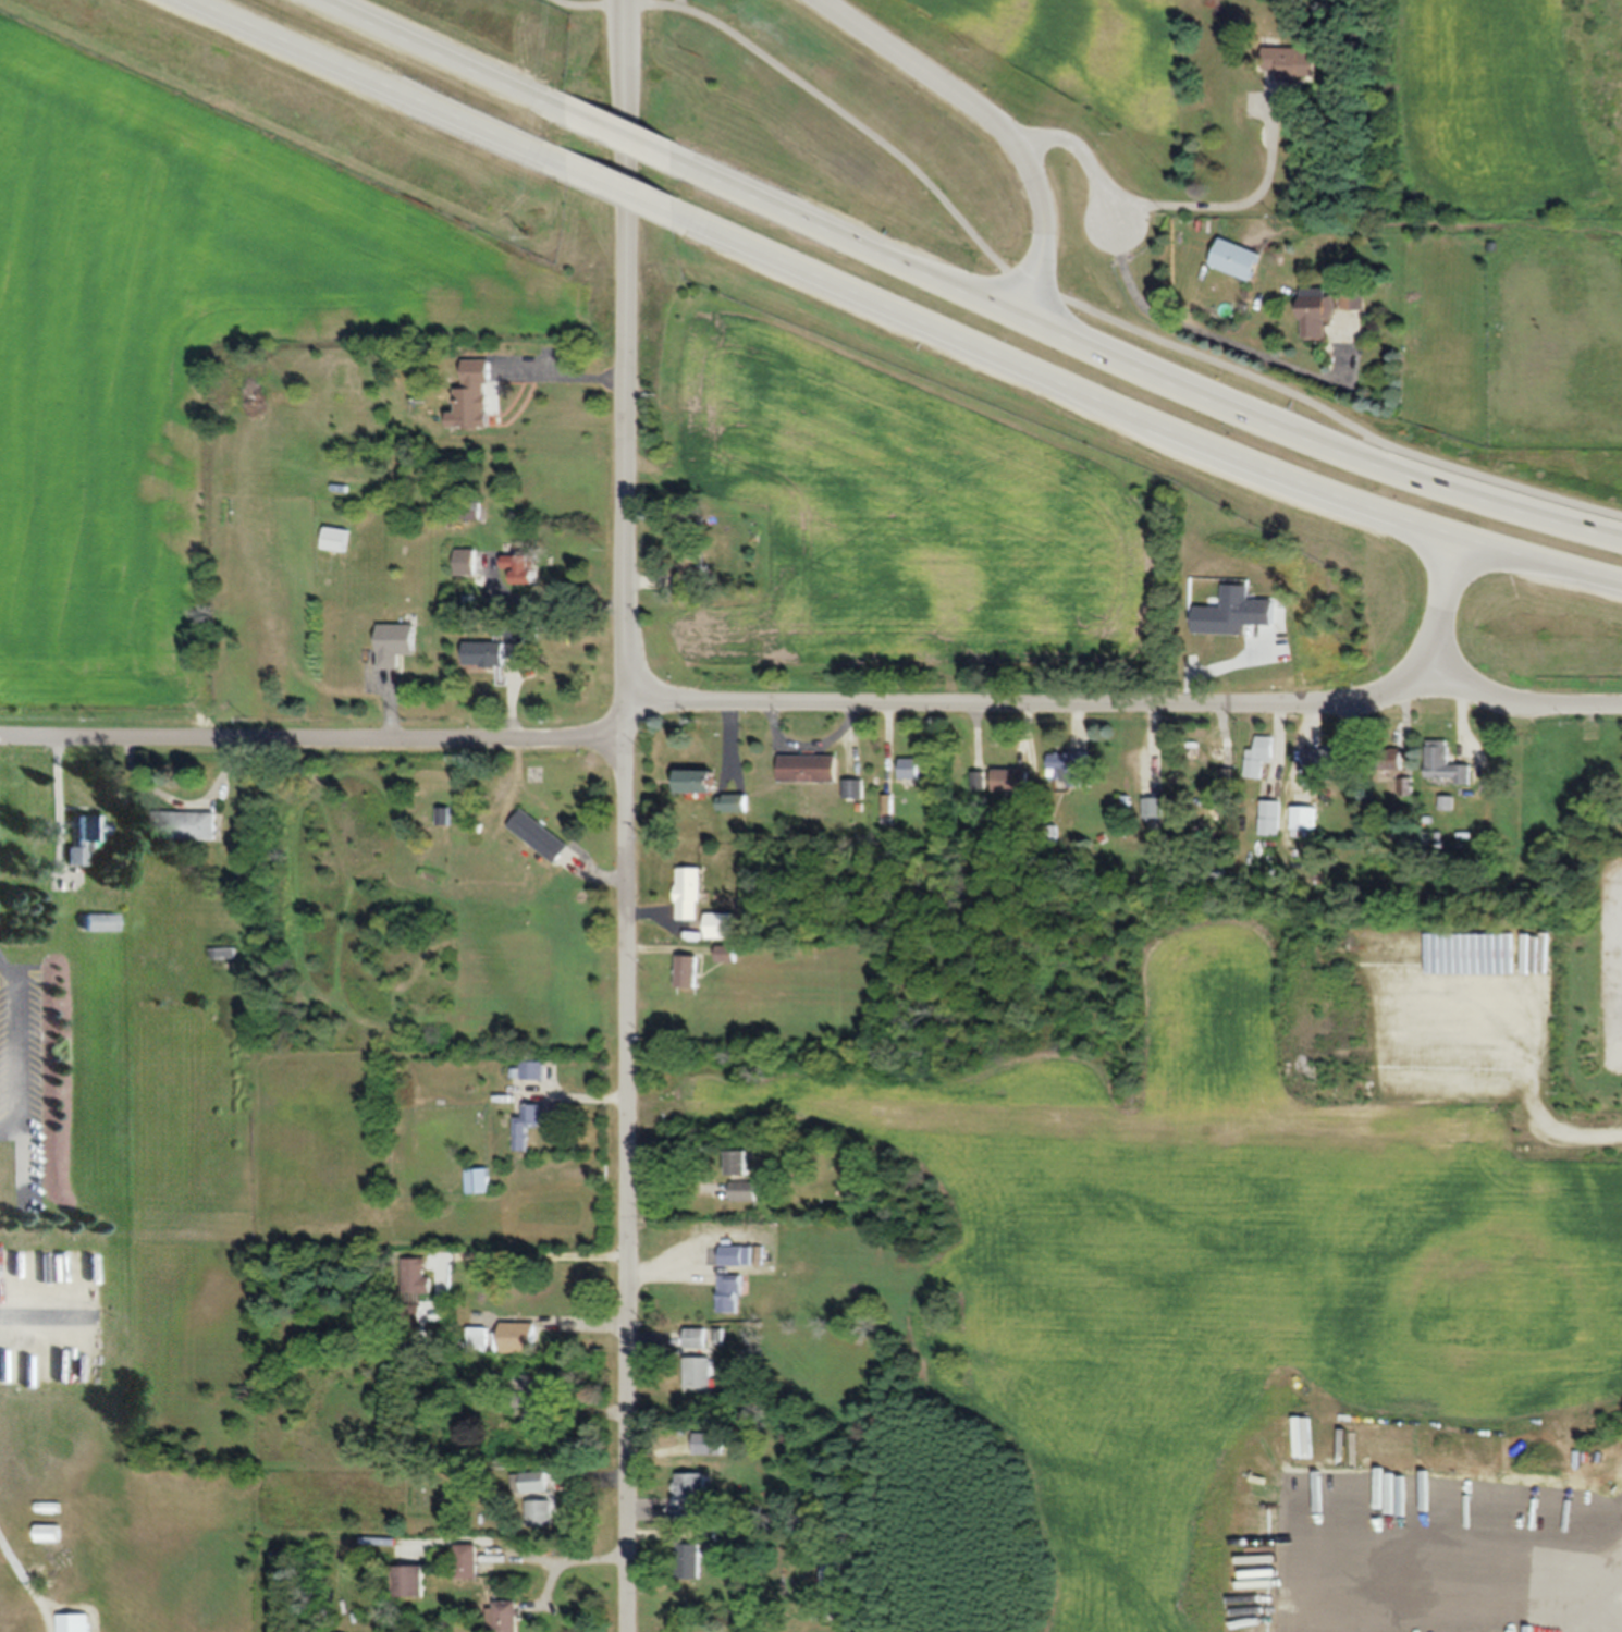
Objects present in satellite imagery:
road: (679, 3)
building: (1292, 61)
road: (437, 64)
crop: (1062, 70)
road: (371, 83)
road: (991, 120)
road: (627, 151)
road: (1081, 152)
road: (619, 192)
road: (1229, 204)
crop: (1509, 222)
building: (1236, 258)
road: (1060, 295)
building: (1317, 310)
road: (1216, 338)
crop: (186, 352)
road: (1144, 372)
road: (557, 376)
building: (474, 396)
road: (1141, 417)
building: (335, 538)
building: (692, 565)
building: (523, 567)
road: (539, 599)
road: (1442, 604)
building: (516, 635)
building: (395, 642)
building: (484, 653)
road: (810, 709)
building: (1203, 748)
building: (1258, 756)
building: (1328, 756)
building: (1442, 762)
building: (909, 766)
building: (807, 768)
building: (1068, 768)
building: (693, 780)
building: (1011, 780)
building: (853, 788)
building: (732, 801)
building: (1153, 807)
road: (622, 815)
building: (1270, 817)
building: (1303, 817)
building: (186, 825)
building: (538, 834)
building: (86, 837)
building: (688, 892)
building: (100, 921)
building: (223, 953)
building: (687, 970)
building: (532, 1070)
road: (579, 1095)
building: (530, 1117)
building: (736, 1162)
building: (478, 1179)
building: (741, 1189)
road: (517, 1249)
building: (735, 1254)
building: (413, 1288)
building: (728, 1292)
building: (516, 1336)
building: (695, 1337)
building: (478, 1339)
building: (698, 1372)
building: (534, 1397)
building: (531, 1483)
building: (691, 1494)
building: (541, 1512)
building: (48, 1533)
building: (468, 1560)
building: (690, 1560)
building: (834, 1572)
building: (409, 1581)
building: (505, 1616)
building: (74, 1622)

